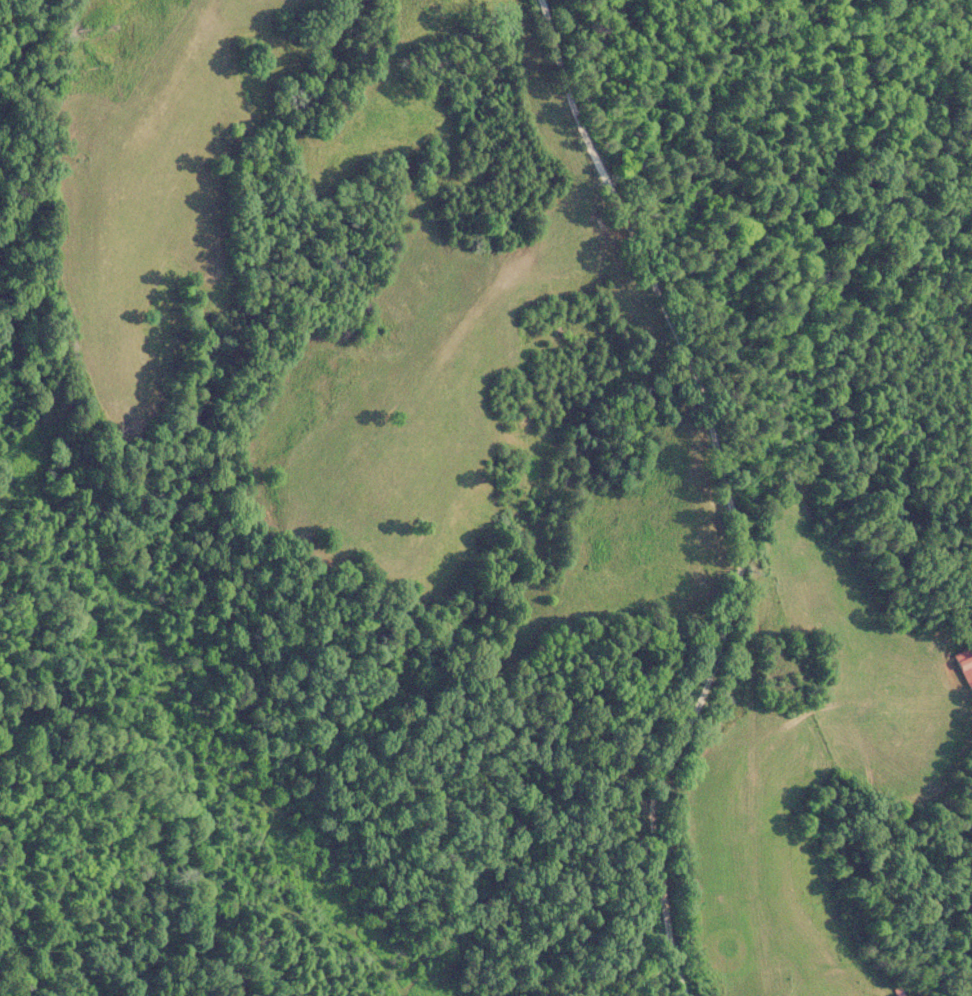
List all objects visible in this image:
road: (716, 483)

